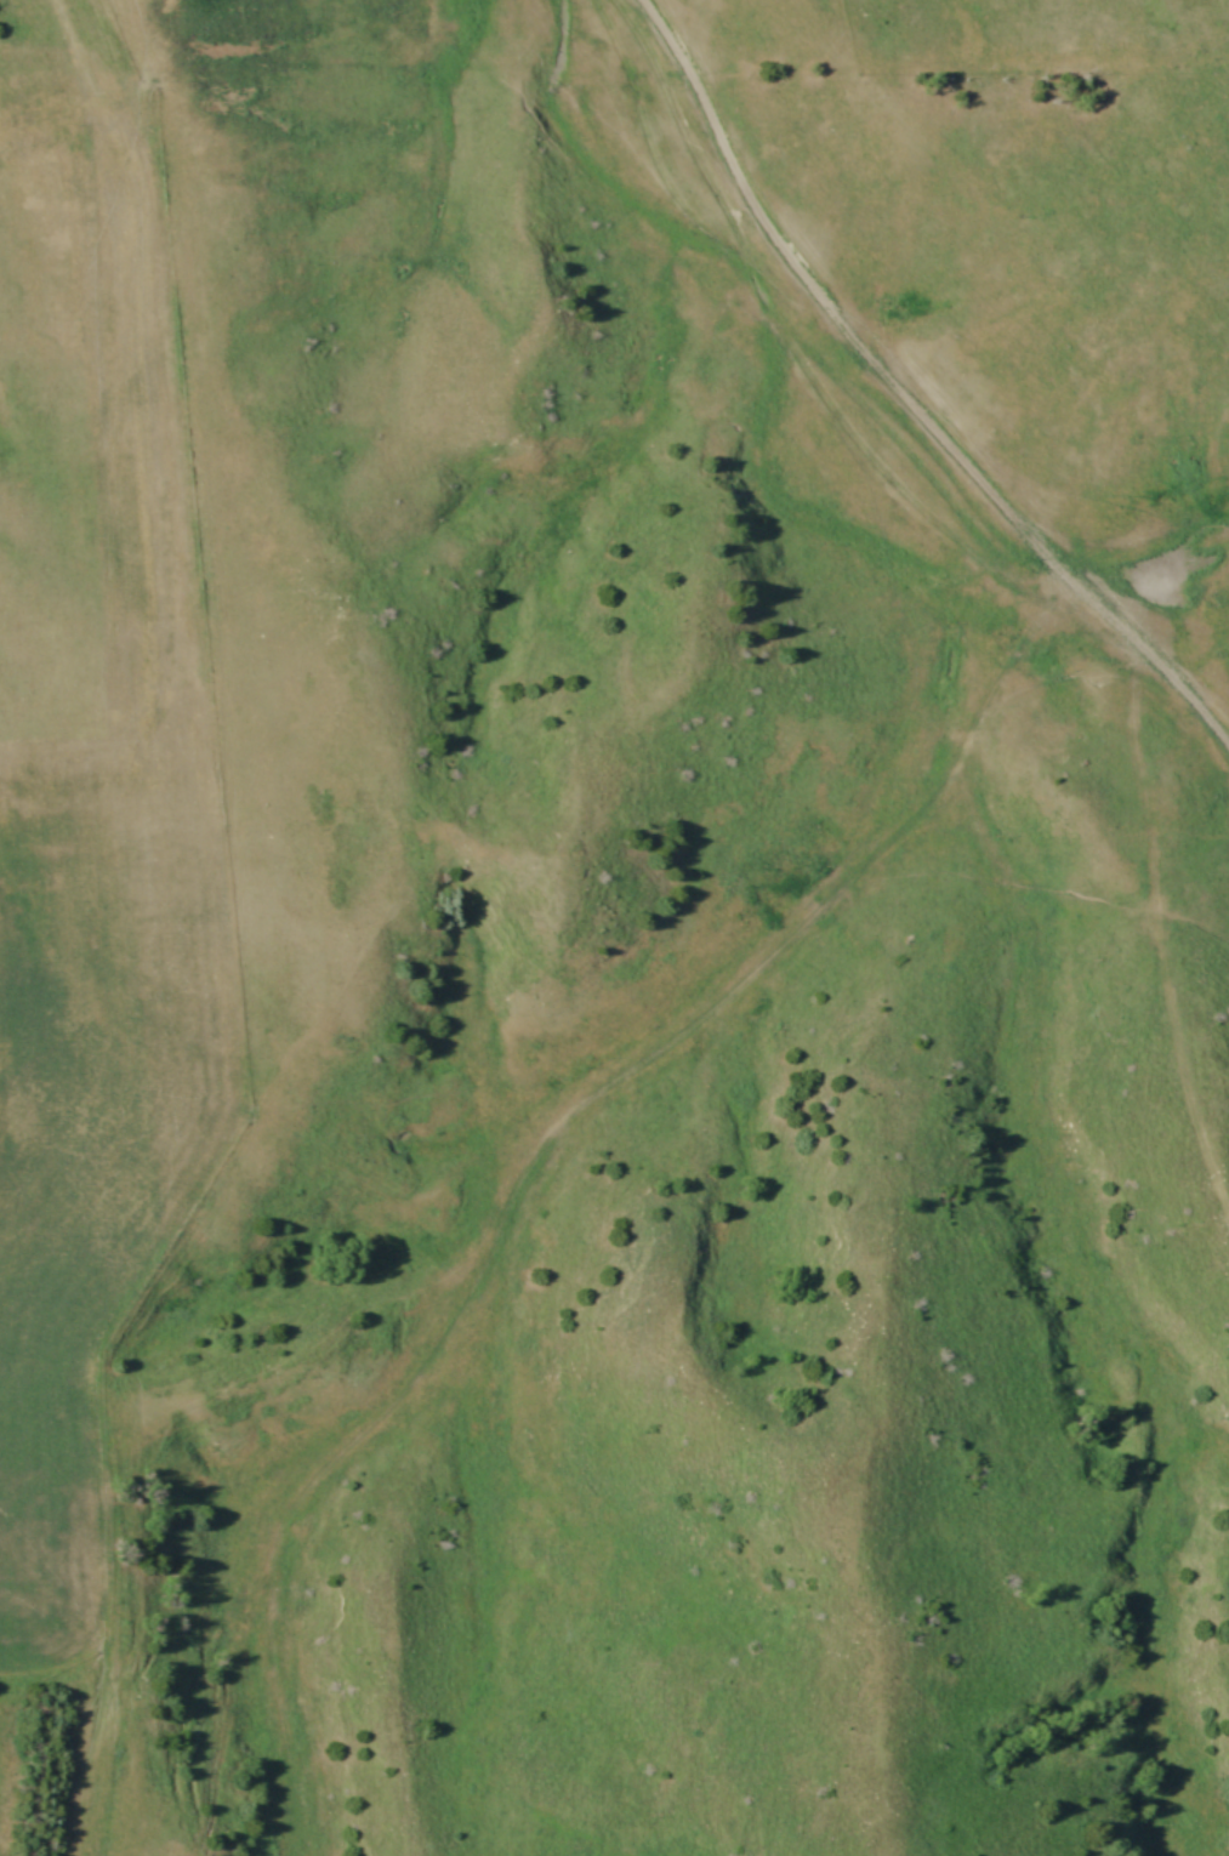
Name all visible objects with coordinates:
road: (911, 399)

